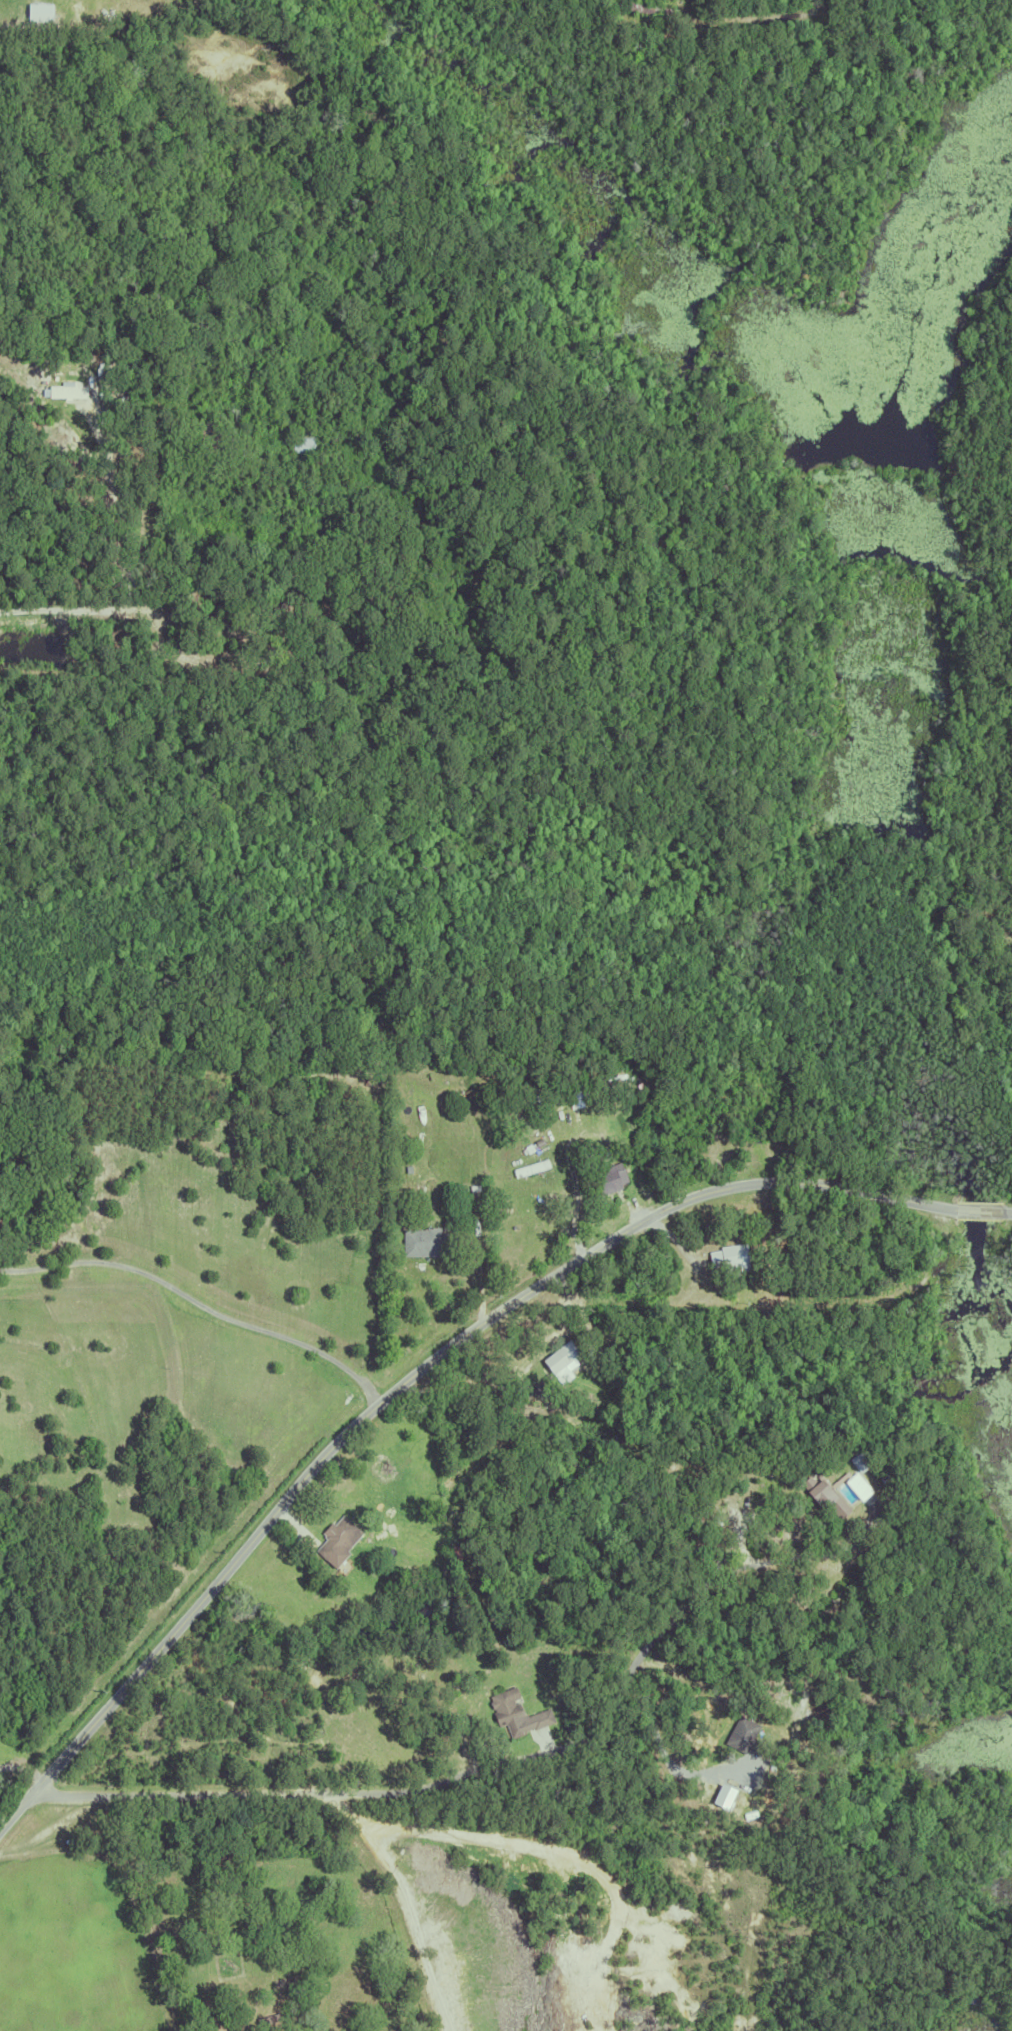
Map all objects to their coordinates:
building: (646, 5)
building: (70, 7)
building: (36, 12)
building: (73, 19)
building: (32, 26)
road: (8, 28)
building: (65, 392)
building: (216, 434)
building: (301, 441)
building: (288, 596)
road: (64, 610)
building: (259, 612)
building: (601, 1143)
building: (590, 1155)
building: (529, 1167)
building: (607, 1177)
building: (479, 1232)
building: (426, 1241)
building: (728, 1256)
road: (200, 1302)
building: (766, 1314)
building: (560, 1360)
road: (429, 1364)
building: (857, 1461)
building: (824, 1498)
building: (336, 1536)
building: (451, 1551)
road: (805, 1557)
building: (514, 1713)
building: (743, 1736)
road: (20, 1777)
road: (441, 1792)
building: (719, 1796)
building: (289, 1979)
building: (274, 2017)

